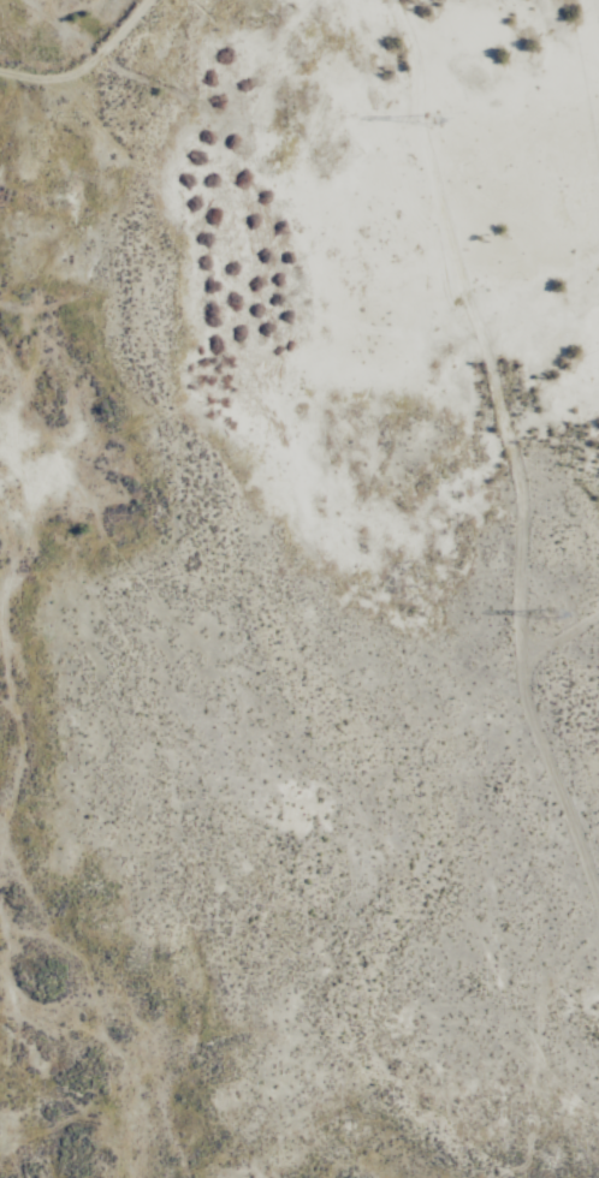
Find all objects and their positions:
road: (88, 66)
power tower: (432, 119)
road: (515, 446)
power tower: (546, 627)

